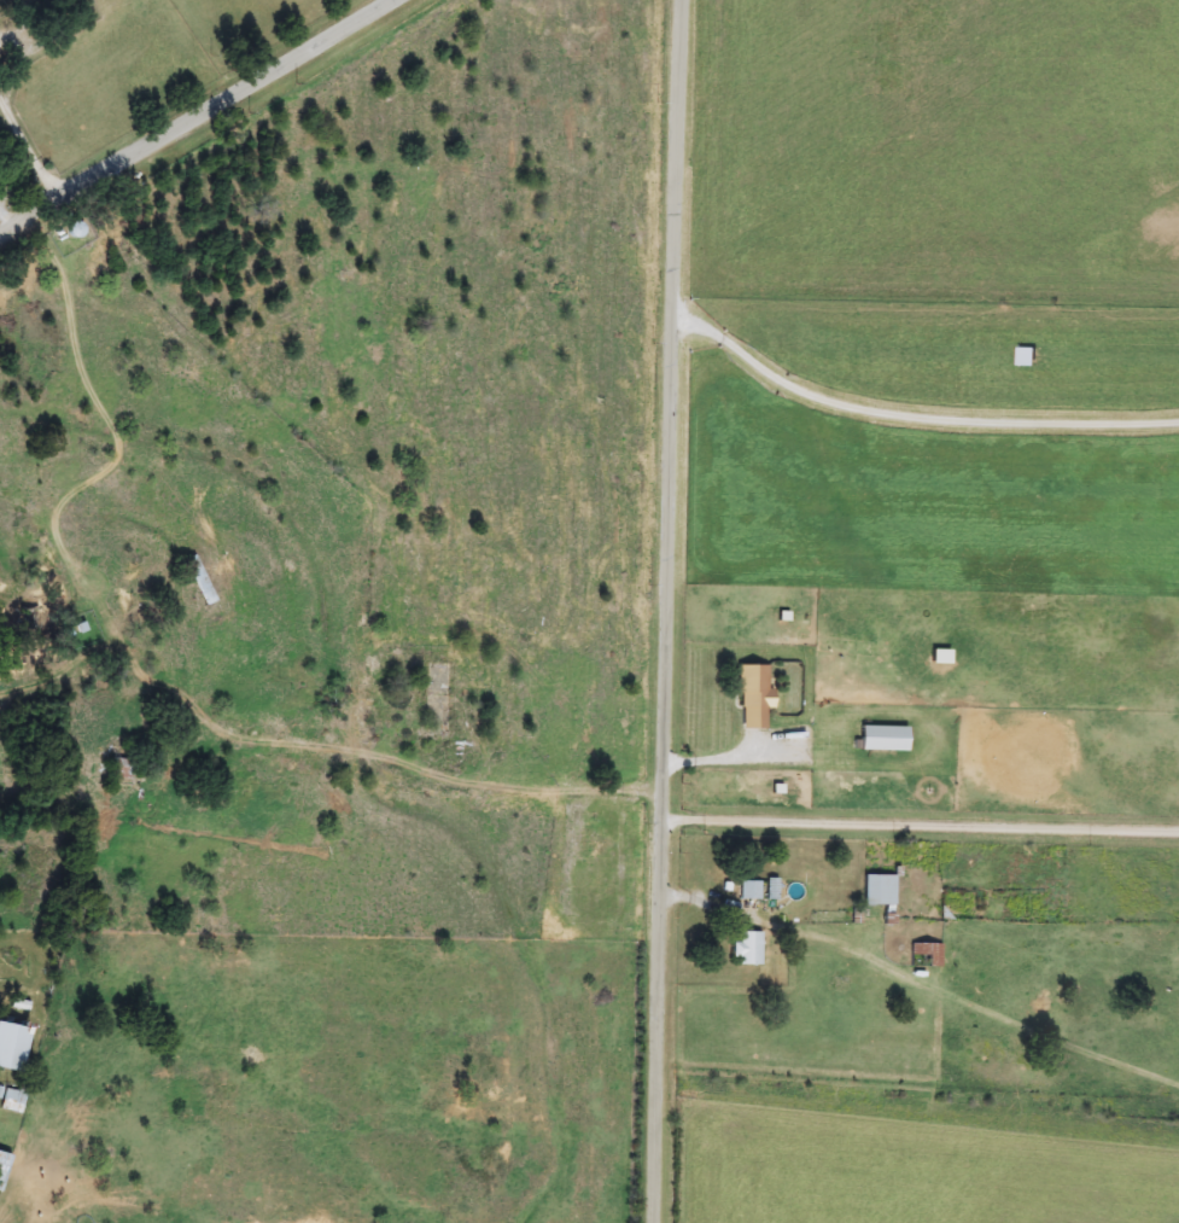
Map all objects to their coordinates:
road: (206, 118)
road: (28, 152)
road: (4, 238)
road: (907, 418)
building: (200, 581)
road: (660, 611)
building: (30, 617)
building: (755, 697)
building: (886, 739)
building: (123, 767)
road: (920, 826)
building: (747, 890)
building: (880, 890)
road: (771, 924)
building: (748, 949)
building: (927, 955)
building: (13, 1047)
building: (13, 1101)
building: (4, 1167)

